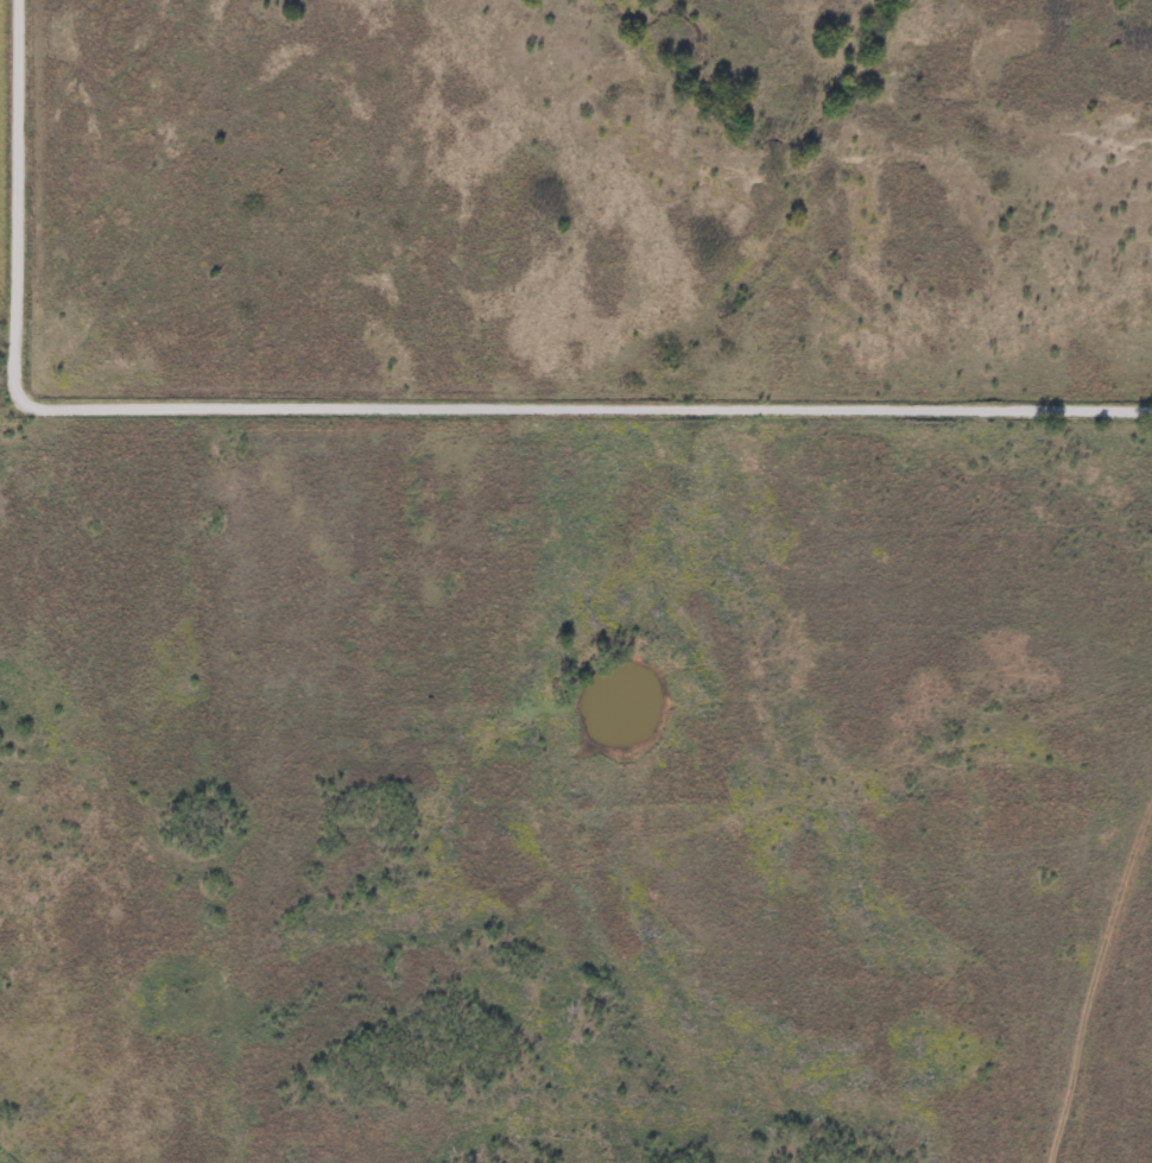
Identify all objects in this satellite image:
road: (388, 407)

